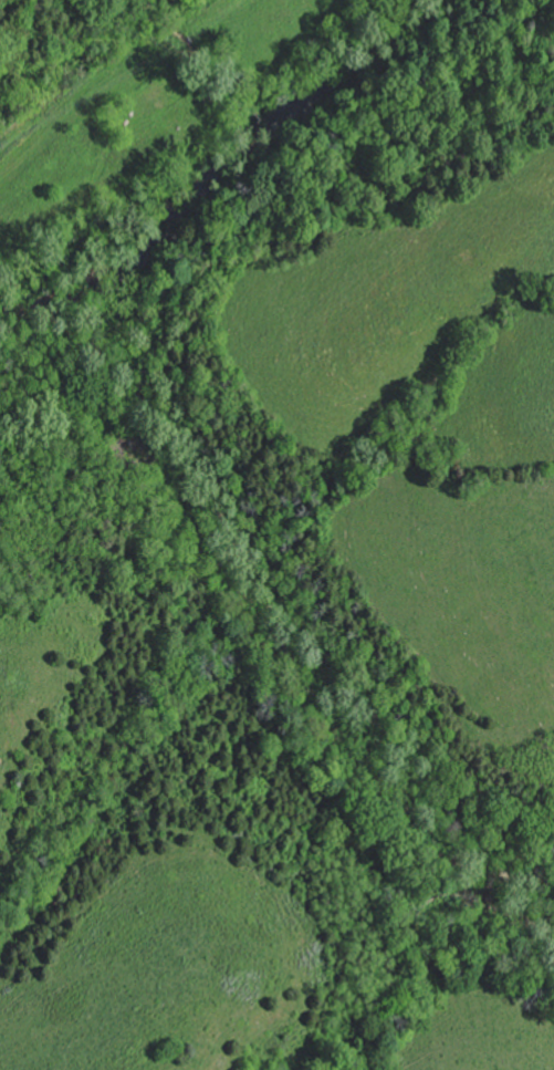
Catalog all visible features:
road: (205, 185)

